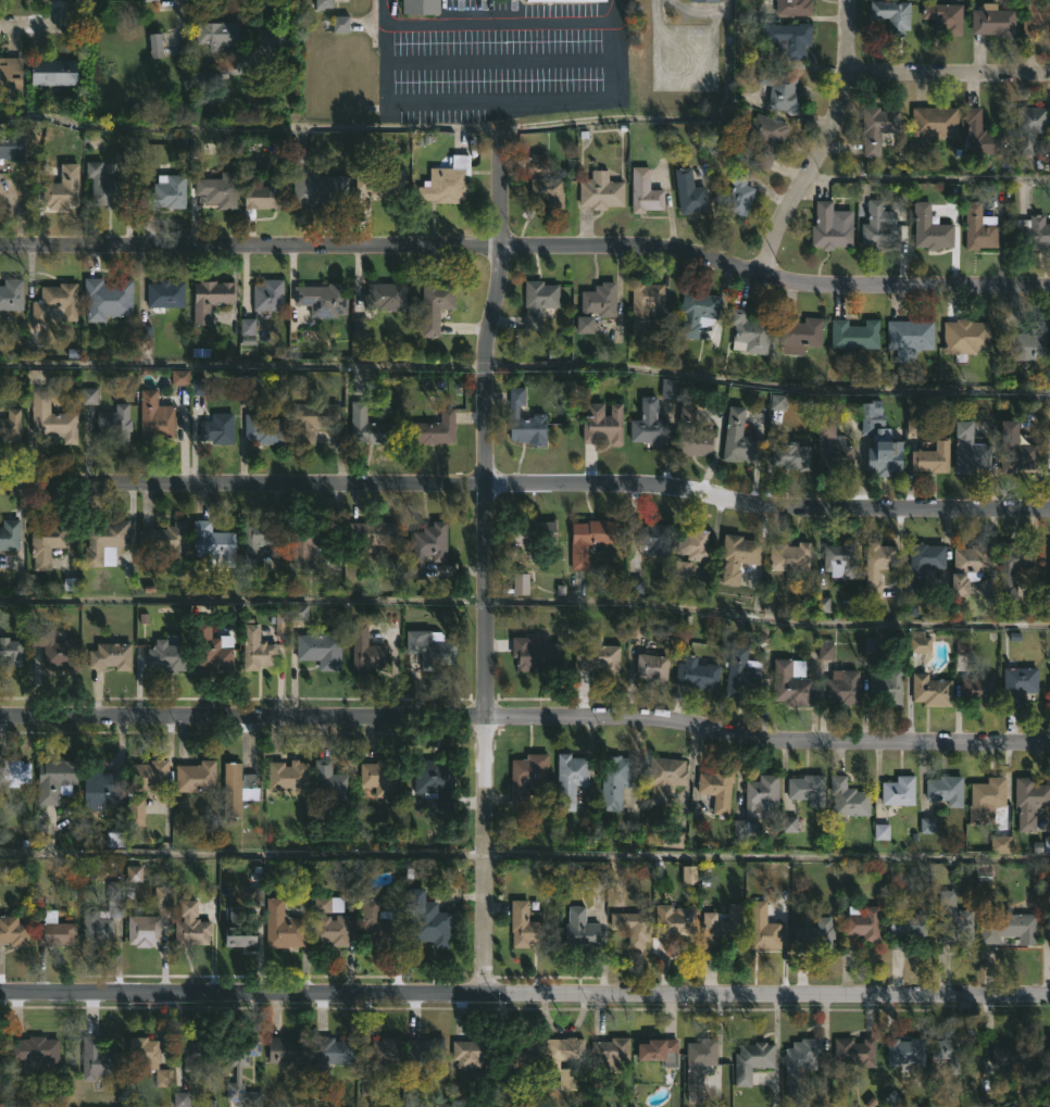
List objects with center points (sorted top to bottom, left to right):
building: (149, 0)
building: (564, 0)
building: (702, 0)
building: (323, 4)
building: (418, 7)
building: (795, 8)
road: (702, 11)
building: (893, 15)
building: (945, 16)
building: (1036, 17)
building: (993, 21)
road: (33, 23)
road: (487, 23)
building: (340, 24)
building: (216, 34)
building: (789, 39)
building: (154, 46)
road: (489, 59)
building: (53, 72)
road: (947, 74)
building: (10, 75)
building: (780, 89)
road: (490, 98)
building: (932, 123)
building: (878, 128)
building: (1029, 128)
building: (980, 136)
building: (764, 138)
road: (823, 142)
building: (3, 154)
building: (538, 161)
building: (380, 181)
building: (447, 181)
building: (314, 183)
building: (103, 187)
building: (62, 189)
building: (220, 189)
building: (548, 191)
building: (601, 191)
building: (645, 191)
building: (689, 192)
building: (164, 193)
building: (265, 193)
building: (739, 194)
building: (829, 226)
building: (879, 227)
building: (930, 228)
building: (979, 228)
building: (1034, 231)
road: (526, 243)
building: (11, 294)
building: (164, 295)
building: (385, 297)
building: (266, 298)
building: (107, 299)
building: (322, 299)
building: (599, 299)
building: (210, 300)
building: (538, 302)
building: (55, 303)
building: (435, 304)
building: (645, 304)
building: (697, 311)
building: (359, 325)
building: (584, 325)
building: (247, 331)
building: (143, 332)
building: (749, 332)
building: (800, 334)
building: (854, 335)
building: (910, 338)
building: (966, 338)
building: (1025, 342)
building: (179, 377)
road: (767, 385)
building: (199, 387)
building: (668, 388)
building: (89, 395)
building: (779, 406)
building: (154, 418)
building: (313, 419)
building: (51, 420)
building: (525, 420)
building: (114, 424)
building: (603, 424)
building: (649, 425)
building: (9, 426)
building: (218, 428)
building: (370, 428)
building: (434, 429)
building: (263, 430)
building: (692, 435)
building: (737, 438)
building: (833, 449)
building: (1016, 450)
building: (970, 451)
building: (1049, 453)
building: (885, 454)
building: (791, 455)
building: (933, 457)
road: (525, 485)
building: (534, 532)
building: (372, 533)
building: (10, 536)
building: (655, 539)
building: (589, 540)
building: (105, 541)
building: (303, 541)
building: (165, 542)
building: (258, 542)
building: (46, 544)
building: (213, 545)
building: (693, 545)
building: (425, 549)
building: (738, 557)
building: (790, 558)
building: (840, 561)
building: (924, 563)
building: (967, 568)
building: (680, 569)
building: (877, 569)
building: (1013, 569)
road: (486, 570)
building: (1049, 581)
building: (520, 583)
building: (635, 586)
road: (243, 597)
building: (821, 604)
building: (298, 612)
road: (767, 618)
building: (279, 620)
building: (635, 628)
building: (920, 642)
building: (870, 646)
building: (962, 646)
building: (429, 649)
building: (825, 649)
building: (11, 650)
building: (53, 650)
building: (214, 650)
building: (255, 650)
building: (320, 651)
building: (364, 651)
building: (535, 655)
building: (111, 656)
building: (168, 656)
building: (597, 656)
building: (652, 668)
building: (698, 669)
building: (742, 670)
building: (1018, 681)
building: (789, 685)
building: (887, 688)
building: (842, 689)
building: (932, 691)
building: (977, 691)
building: (1049, 699)
road: (525, 720)
building: (13, 772)
building: (148, 773)
building: (287, 775)
building: (526, 776)
building: (196, 777)
building: (376, 778)
building: (427, 779)
building: (665, 779)
building: (54, 780)
building: (570, 780)
building: (614, 780)
building: (329, 783)
building: (105, 787)
building: (237, 789)
building: (717, 789)
building: (808, 789)
building: (899, 790)
building: (947, 790)
building: (986, 798)
building: (847, 800)
building: (1030, 801)
building: (758, 806)
building: (135, 812)
building: (789, 825)
building: (927, 826)
building: (880, 832)
building: (672, 839)
building: (999, 844)
road: (243, 852)
road: (767, 854)
building: (133, 873)
building: (688, 875)
building: (595, 879)
building: (983, 886)
building: (162, 895)
building: (328, 904)
building: (103, 915)
building: (426, 919)
building: (953, 921)
building: (863, 922)
building: (190, 924)
building: (524, 924)
building: (282, 926)
building: (376, 926)
building: (634, 927)
building: (1011, 927)
building: (905, 928)
building: (330, 929)
building: (580, 929)
building: (143, 930)
building: (678, 930)
building: (13, 931)
building: (722, 932)
building: (1049, 932)
building: (54, 933)
building: (815, 933)
building: (237, 934)
road: (525, 994)
building: (657, 1048)
building: (952, 1048)
building: (288, 1049)
building: (611, 1049)
building: (425, 1051)
building: (34, 1052)
building: (855, 1052)
building: (905, 1052)
building: (1049, 1052)
building: (471, 1053)
building: (1014, 1053)
building: (329, 1054)
building: (523, 1054)
building: (198, 1055)
building: (148, 1058)
building: (96, 1059)
building: (699, 1060)
building: (751, 1060)
building: (378, 1062)
building: (554, 1064)
building: (800, 1064)
building: (1049, 1068)
building: (236, 1073)
building: (180, 1099)

